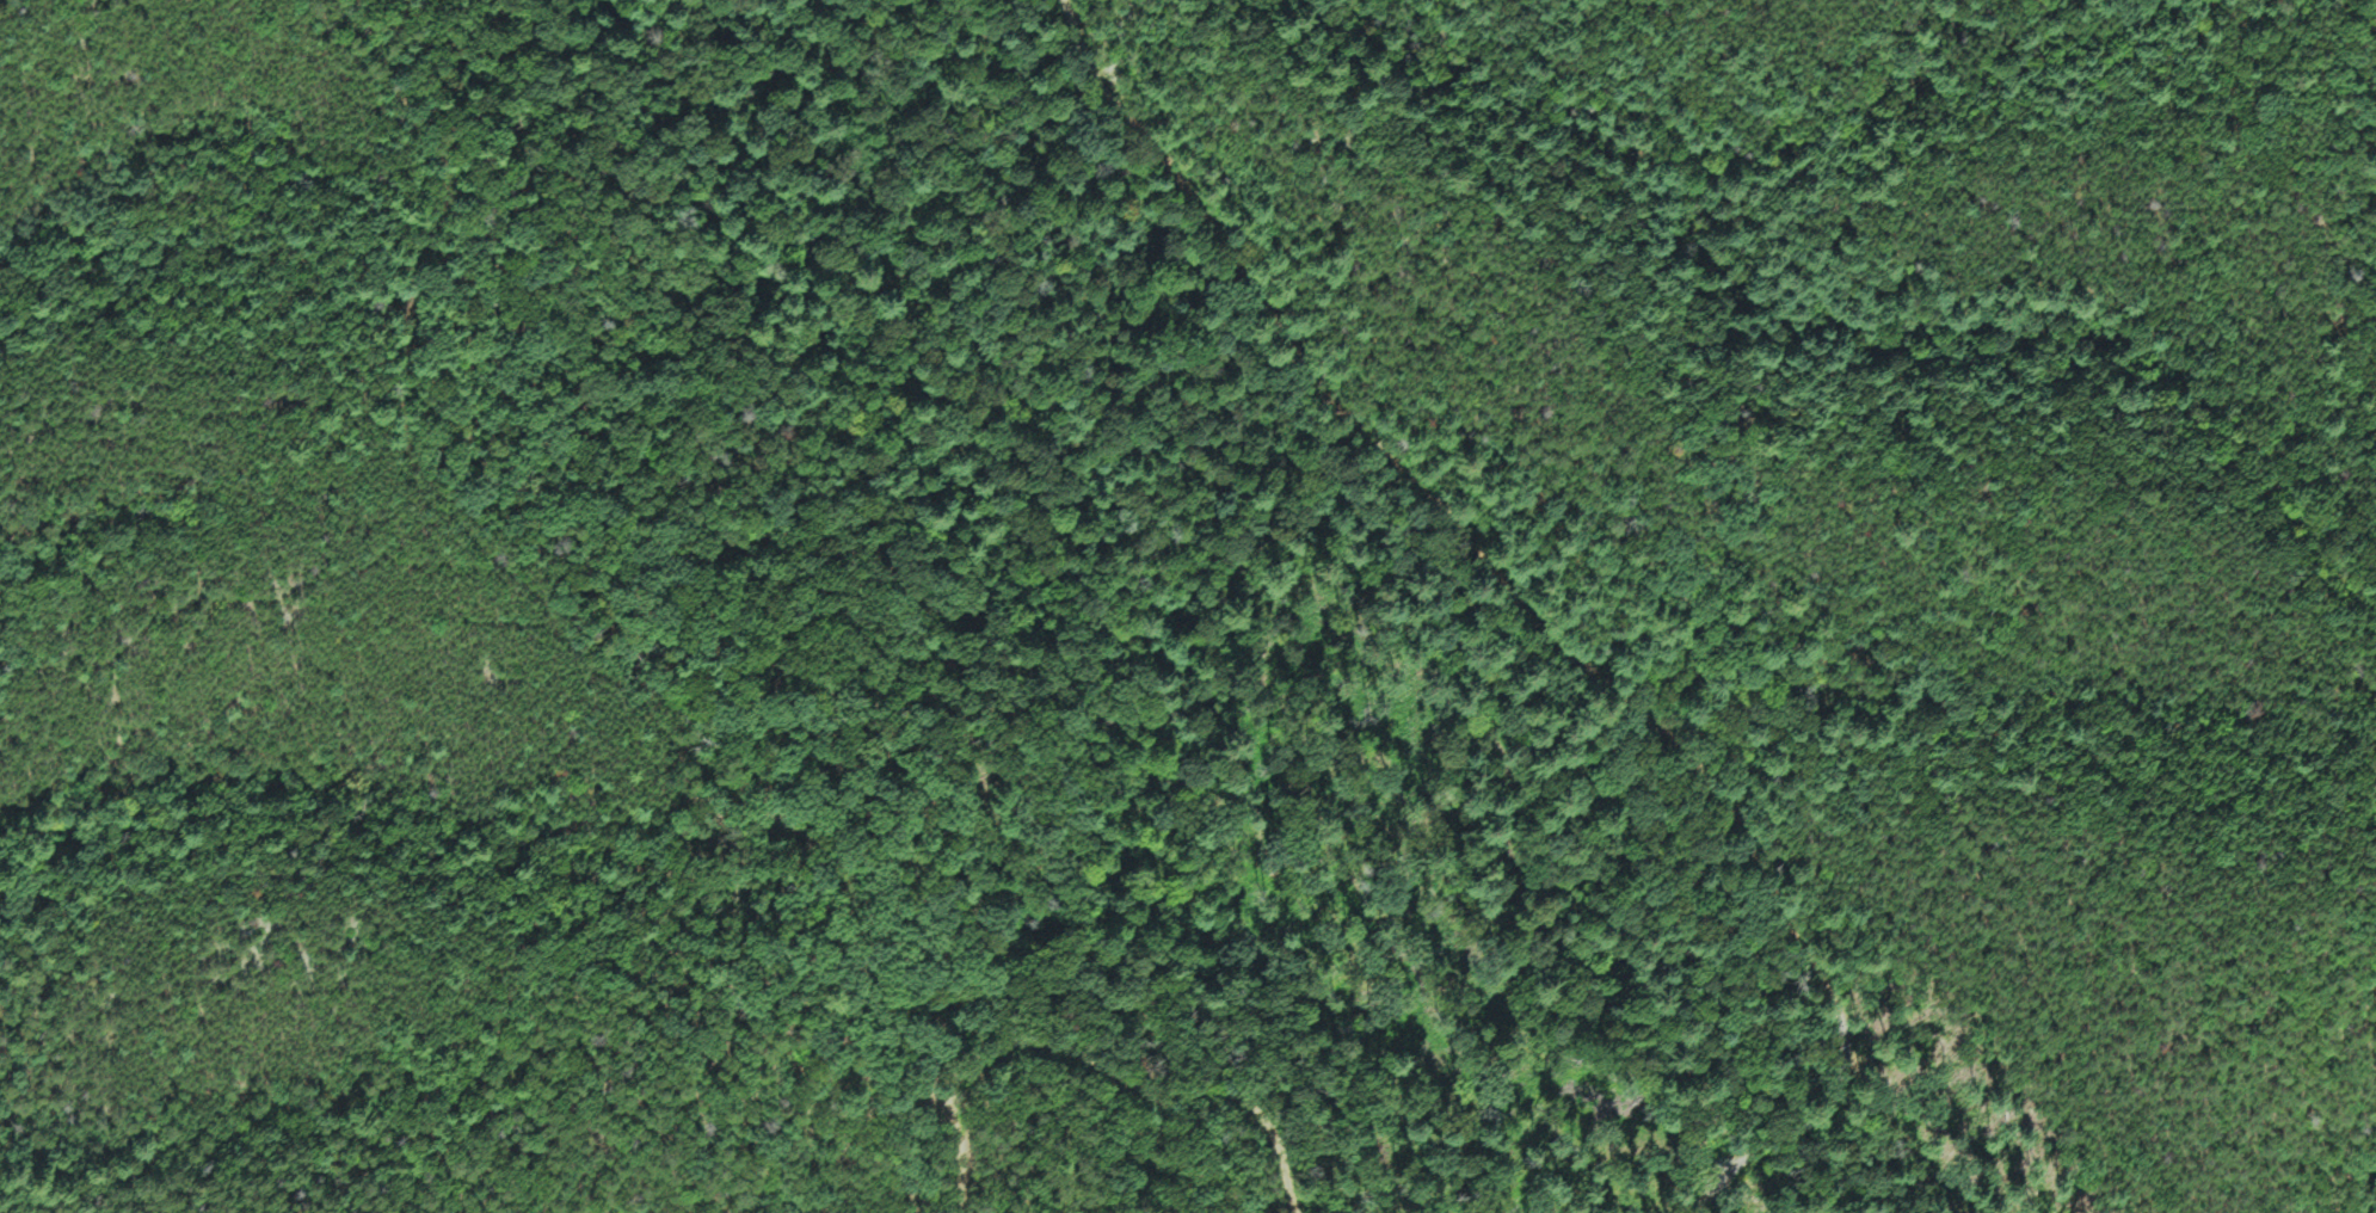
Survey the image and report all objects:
road: (1539, 593)
road: (1075, 1082)

